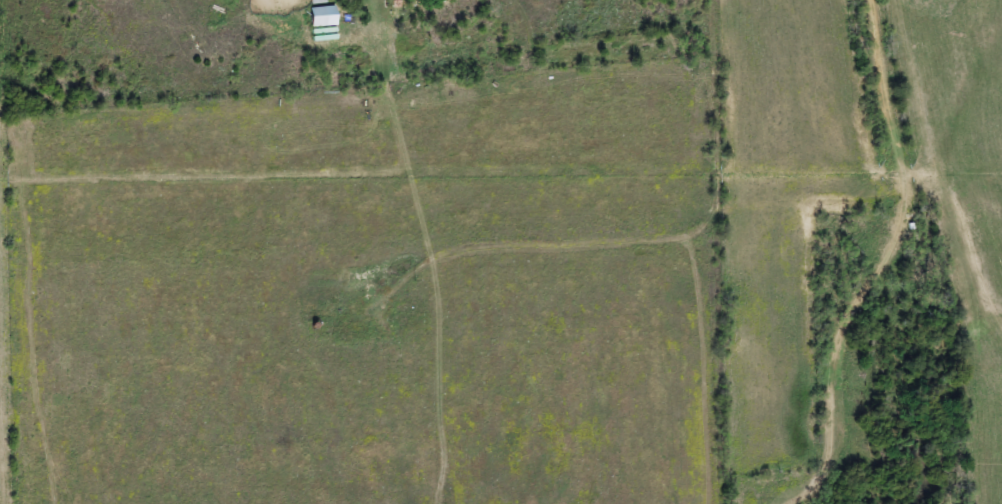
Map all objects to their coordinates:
building: (317, 1)
building: (323, 16)
road: (555, 60)

